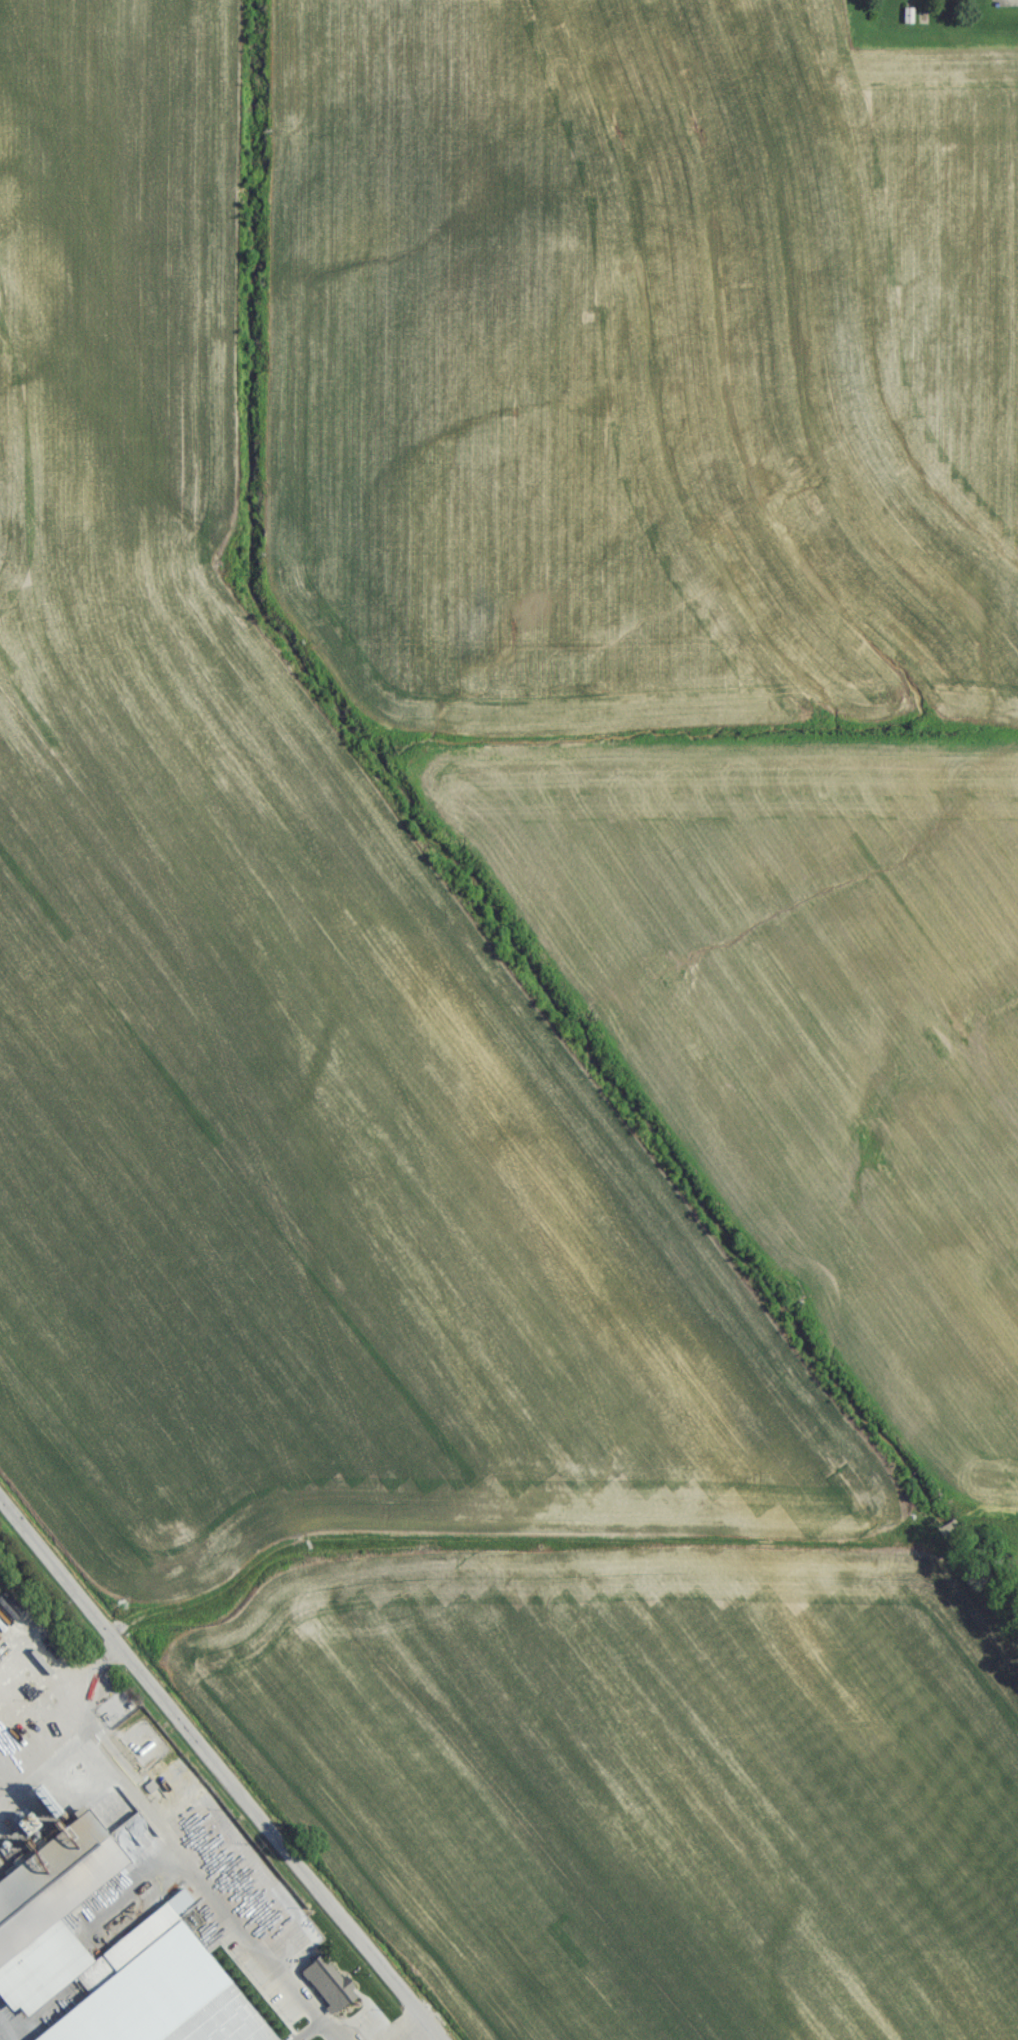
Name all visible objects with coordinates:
road: (47, 1767)
road: (217, 1772)
road: (181, 1851)
building: (283, 2009)
road: (4, 2033)
road: (428, 2038)

